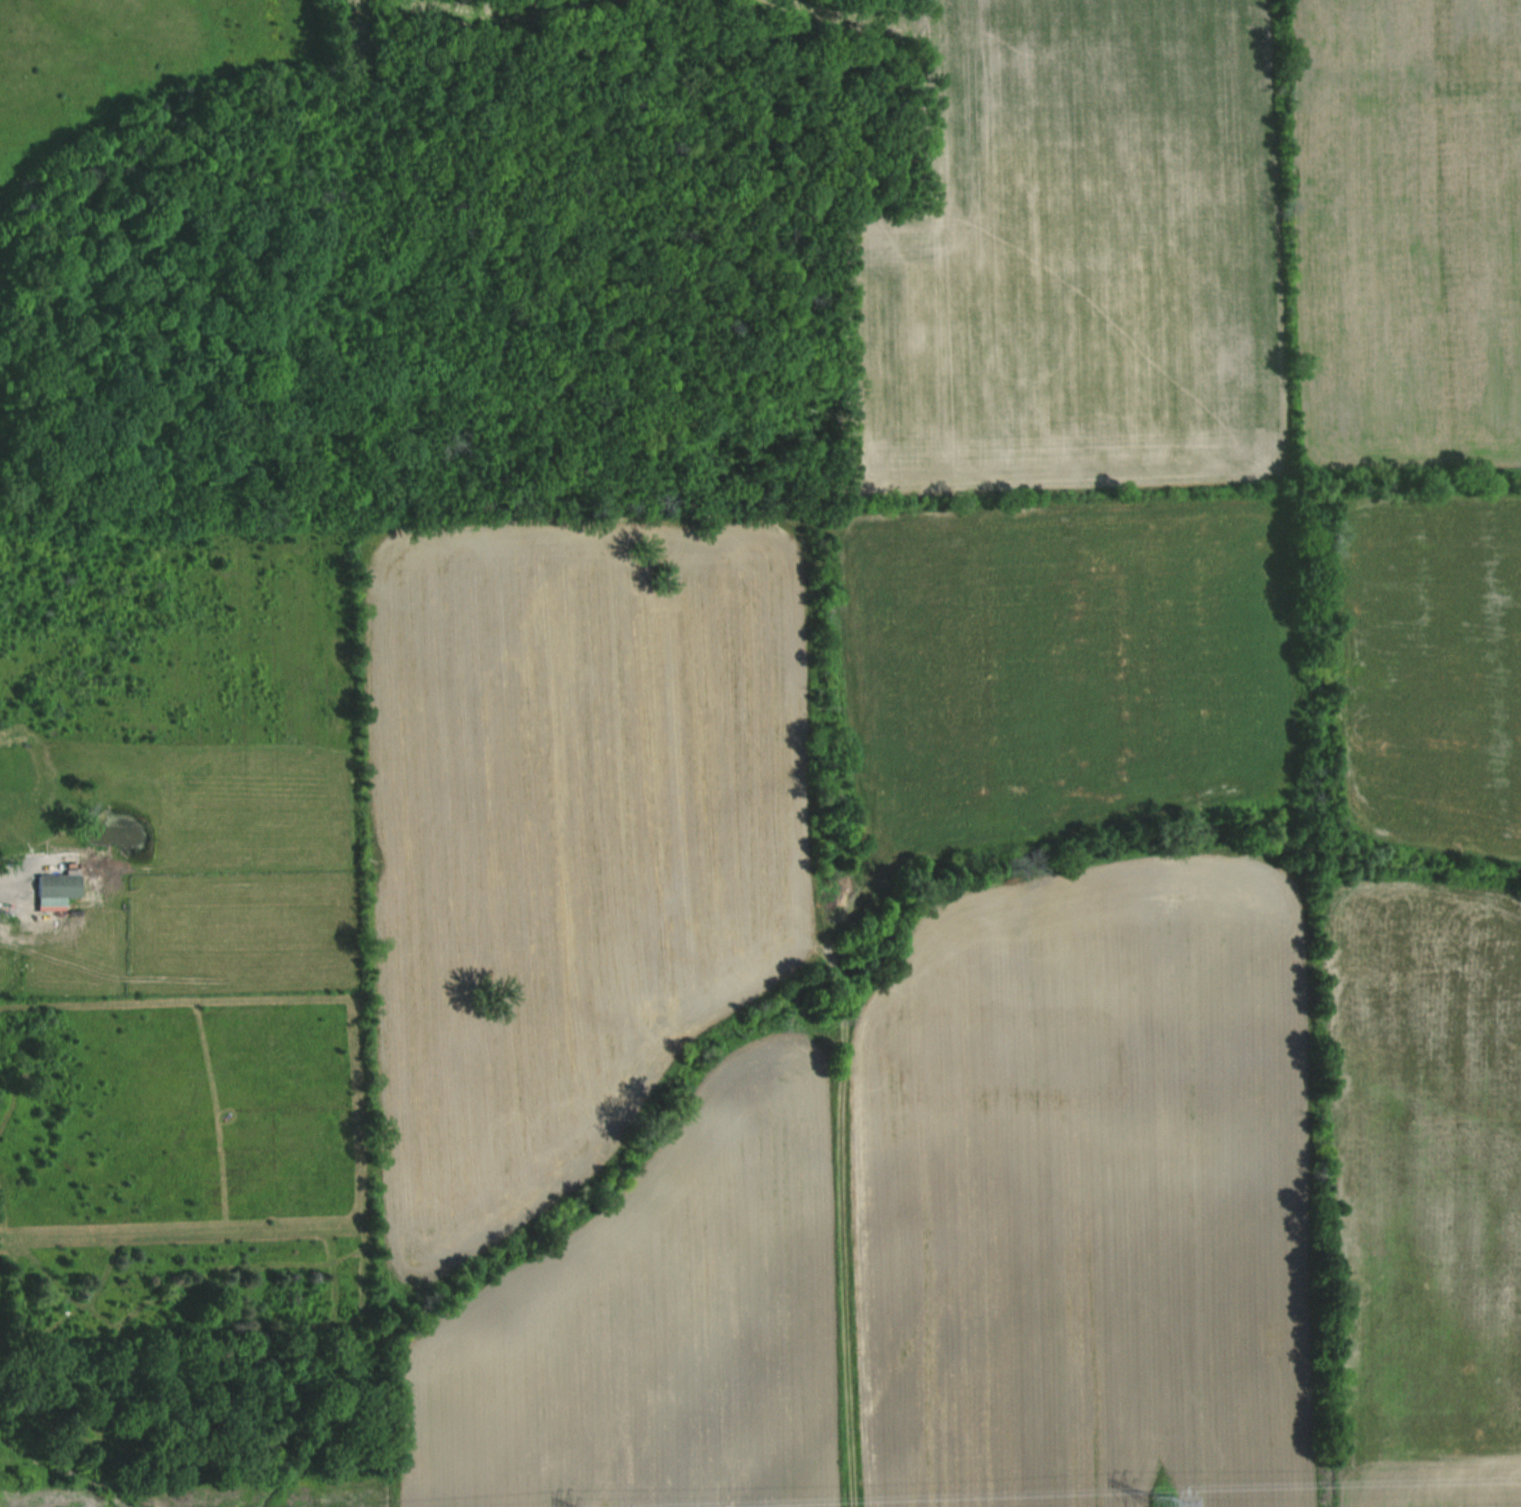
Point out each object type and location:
building: (57, 886)

